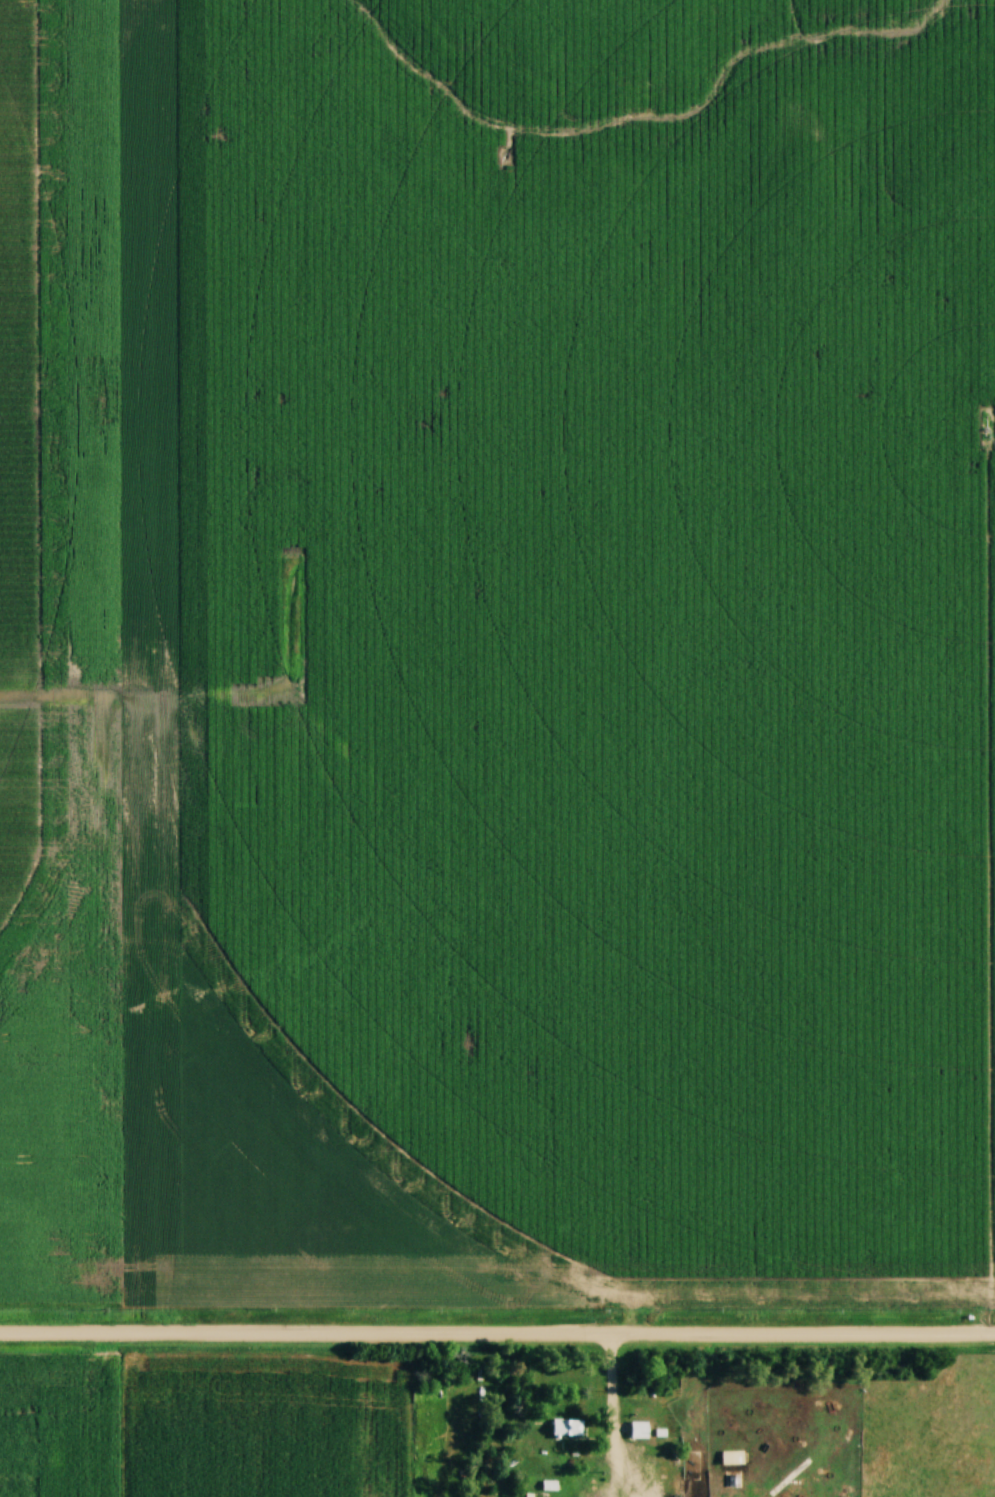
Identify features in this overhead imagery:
crop: (60, 650)
road: (497, 1334)
road: (615, 1389)
building: (569, 1428)
building: (640, 1430)
building: (733, 1458)

